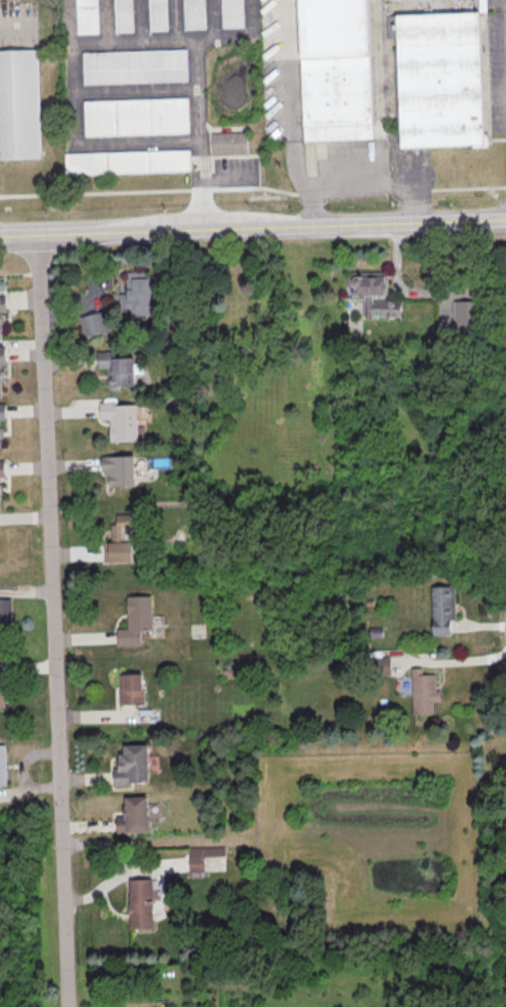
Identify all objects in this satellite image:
building: (448, 2)
building: (390, 6)
building: (159, 13)
building: (233, 13)
building: (196, 14)
building: (124, 15)
building: (89, 17)
road: (504, 30)
road: (240, 38)
road: (112, 44)
building: (136, 69)
building: (339, 70)
building: (443, 79)
building: (20, 105)
road: (287, 114)
building: (137, 117)
road: (200, 137)
building: (232, 144)
building: (128, 162)
road: (377, 176)
road: (253, 187)
road: (252, 228)
road: (92, 294)
building: (134, 295)
building: (374, 295)
building: (2, 298)
building: (465, 316)
building: (0, 321)
building: (93, 324)
building: (1, 356)
road: (68, 362)
building: (115, 370)
building: (0, 378)
road: (23, 411)
road: (71, 412)
building: (2, 413)
building: (119, 421)
building: (0, 435)
road: (73, 465)
road: (24, 468)
building: (1, 469)
building: (118, 472)
building: (0, 493)
road: (24, 517)
building: (120, 540)
road: (76, 553)
building: (444, 609)
building: (5, 611)
road: (52, 620)
building: (134, 621)
road: (84, 638)
road: (464, 660)
road: (26, 667)
building: (421, 689)
building: (129, 690)
building: (0, 691)
road: (94, 715)
building: (0, 766)
building: (131, 768)
road: (84, 778)
building: (132, 817)
road: (87, 826)
building: (201, 857)
road: (121, 872)
building: (139, 905)

